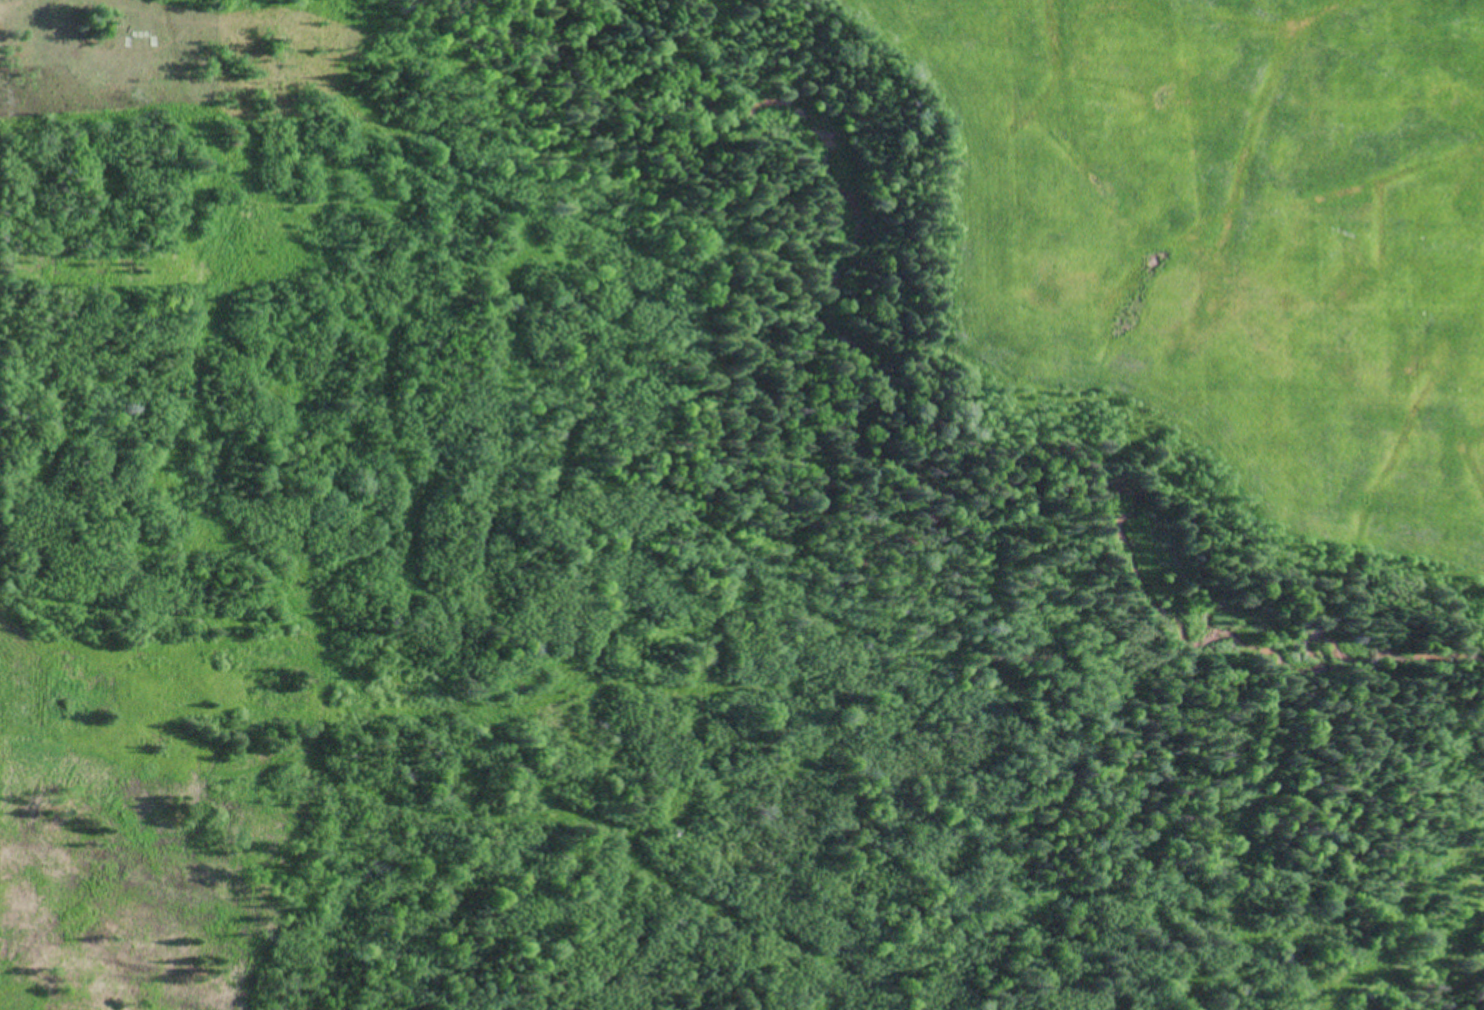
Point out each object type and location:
building: (1468, 12)
building: (1417, 78)
building: (1466, 104)
building: (1411, 172)

